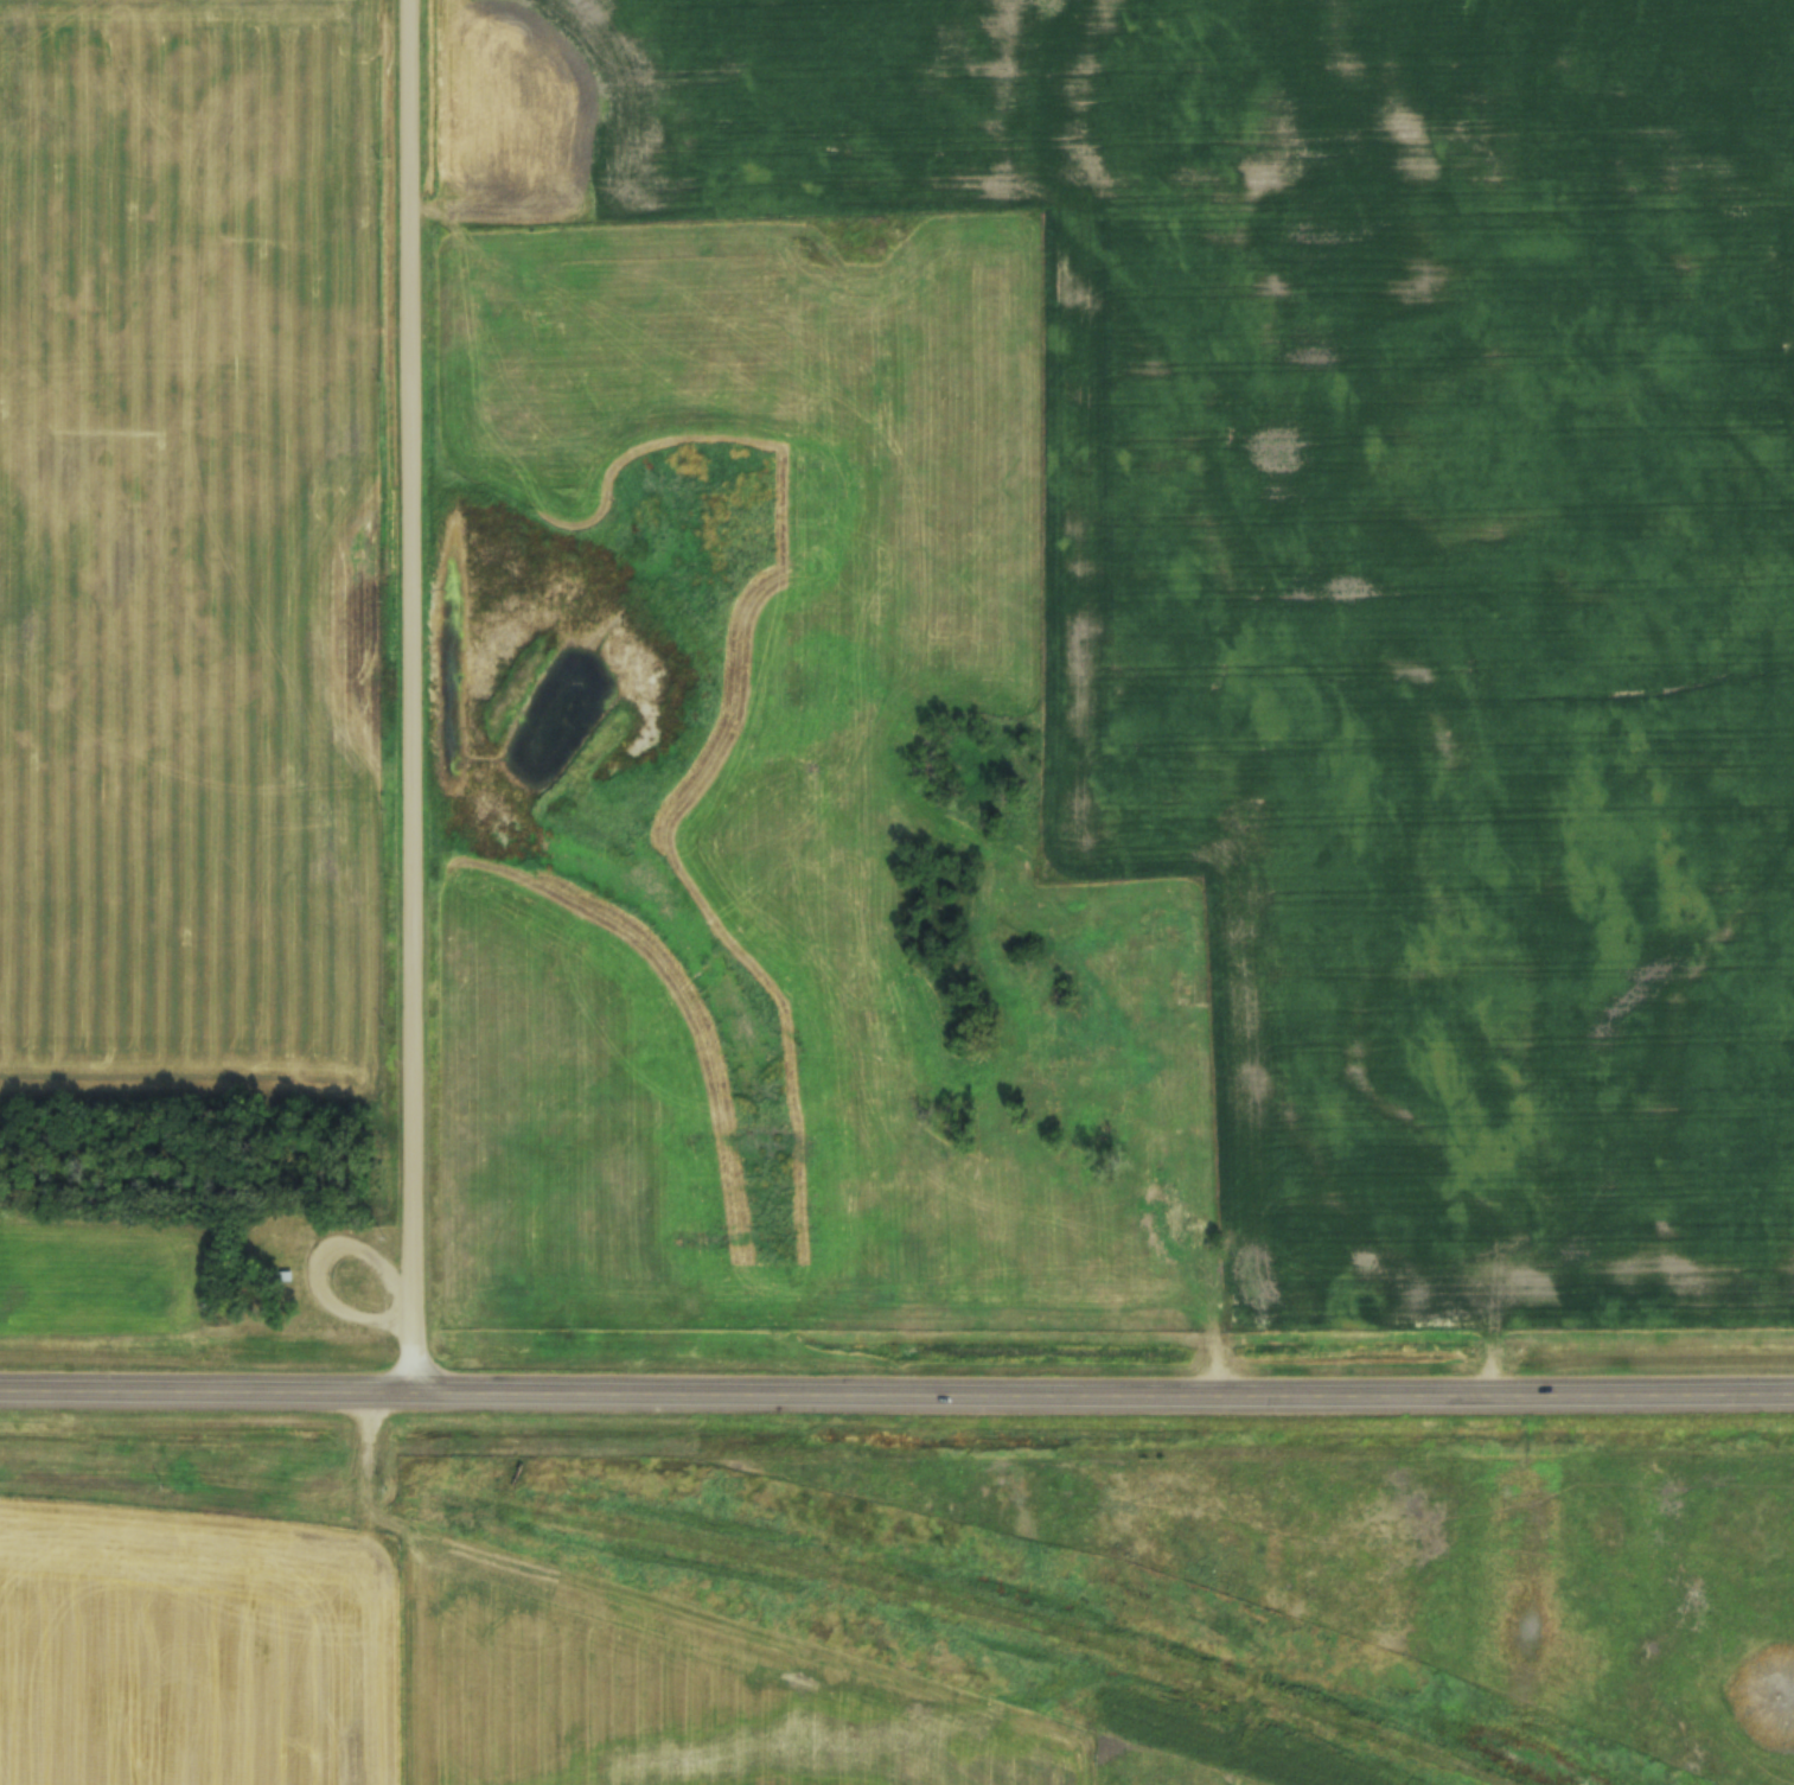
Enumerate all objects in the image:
road: (416, 695)
road: (896, 1391)

